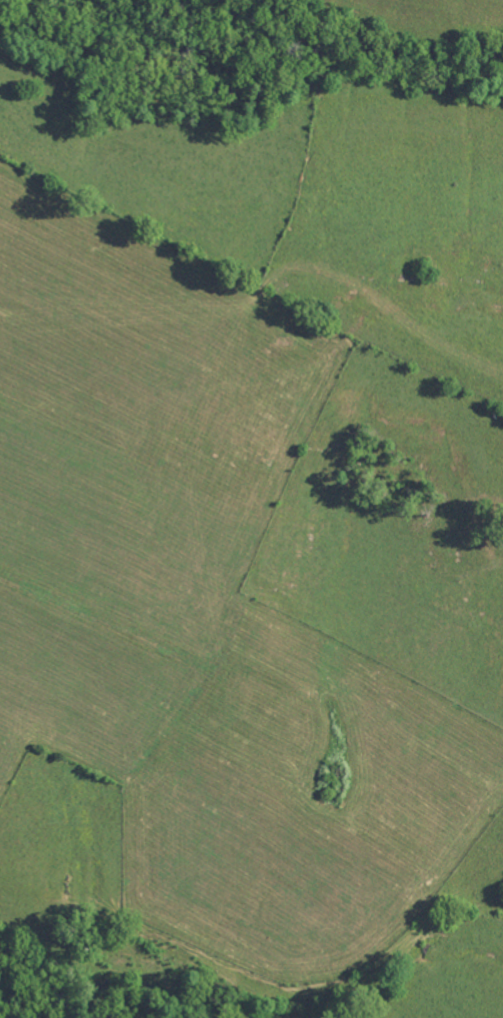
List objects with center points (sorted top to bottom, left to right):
road: (400, 658)

